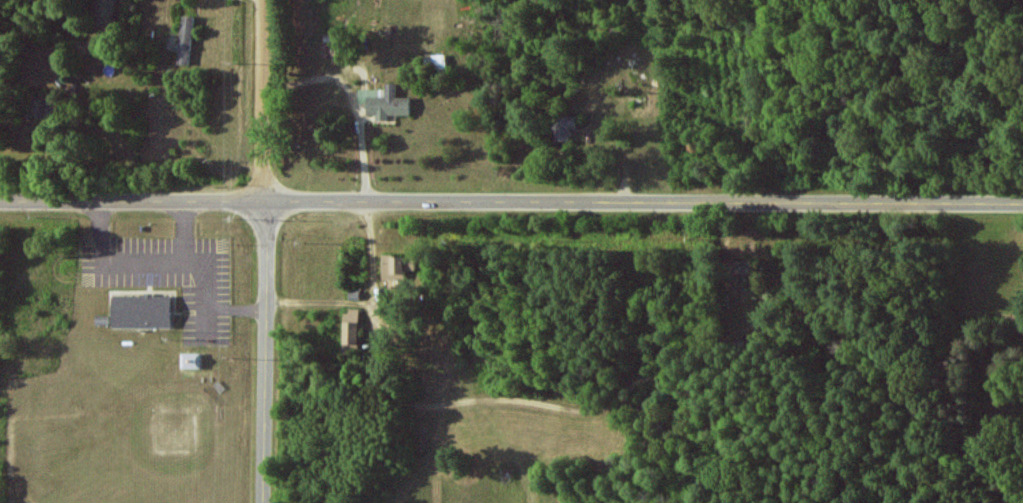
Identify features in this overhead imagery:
building: (102, 12)
building: (184, 41)
building: (437, 62)
road: (350, 93)
building: (384, 102)
building: (40, 106)
building: (564, 126)
road: (511, 195)
road: (263, 251)
building: (398, 268)
building: (740, 270)
road: (366, 292)
building: (141, 311)
building: (191, 360)

